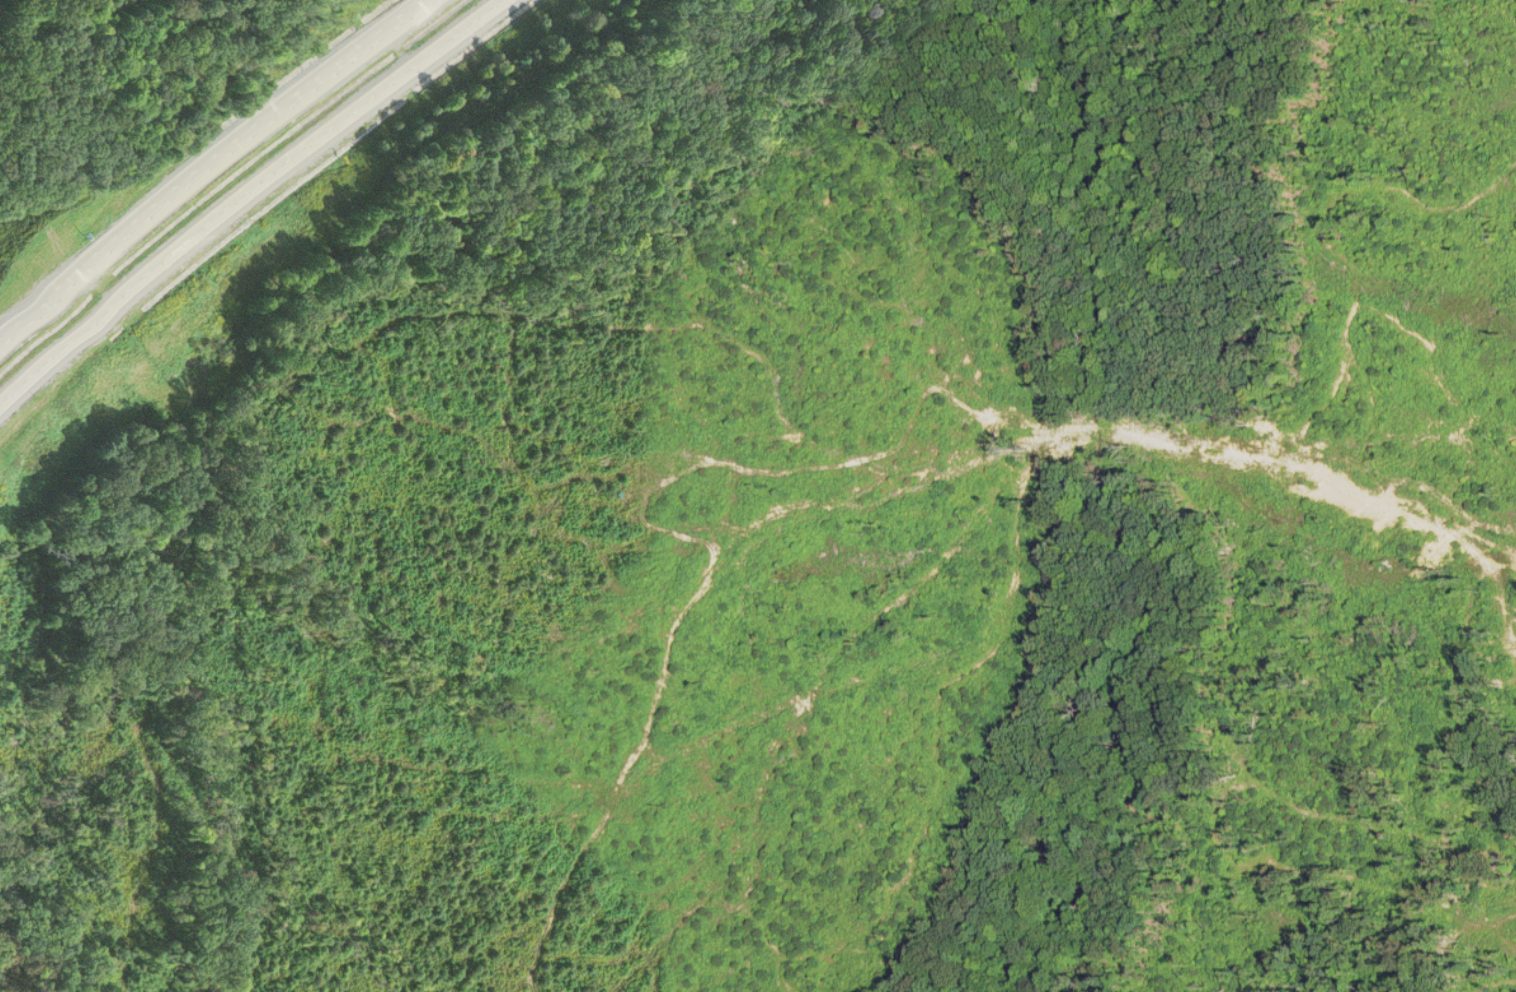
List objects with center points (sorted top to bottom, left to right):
road: (206, 163)
road: (246, 194)

